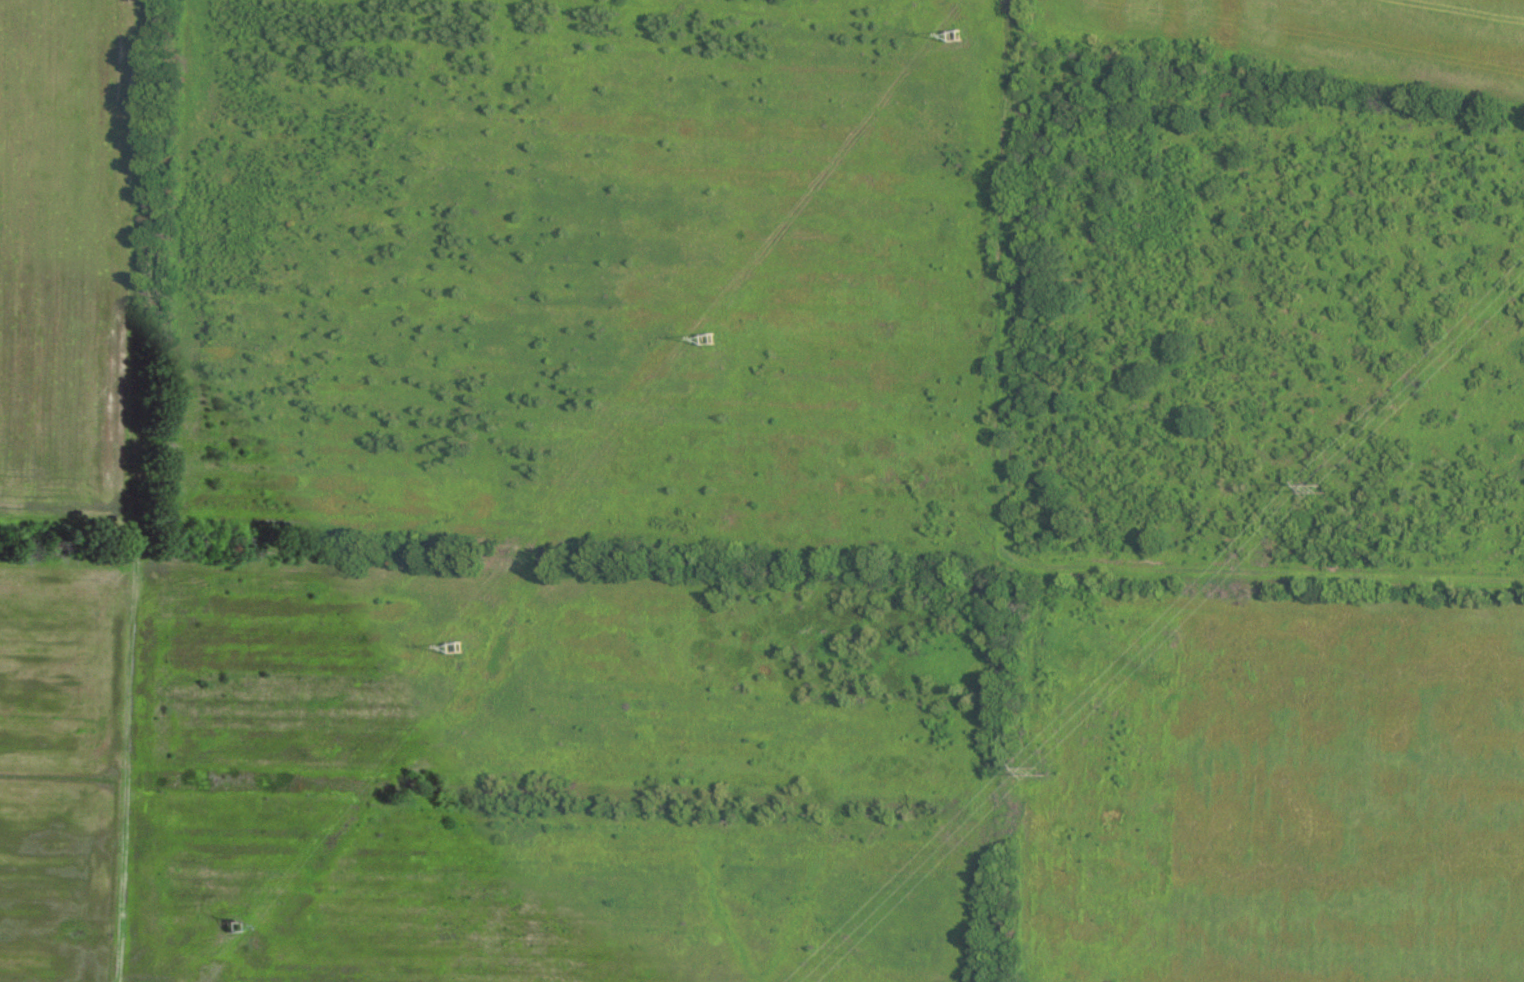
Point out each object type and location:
power tower: (1328, 491)
road: (1255, 567)
power tower: (1046, 776)

